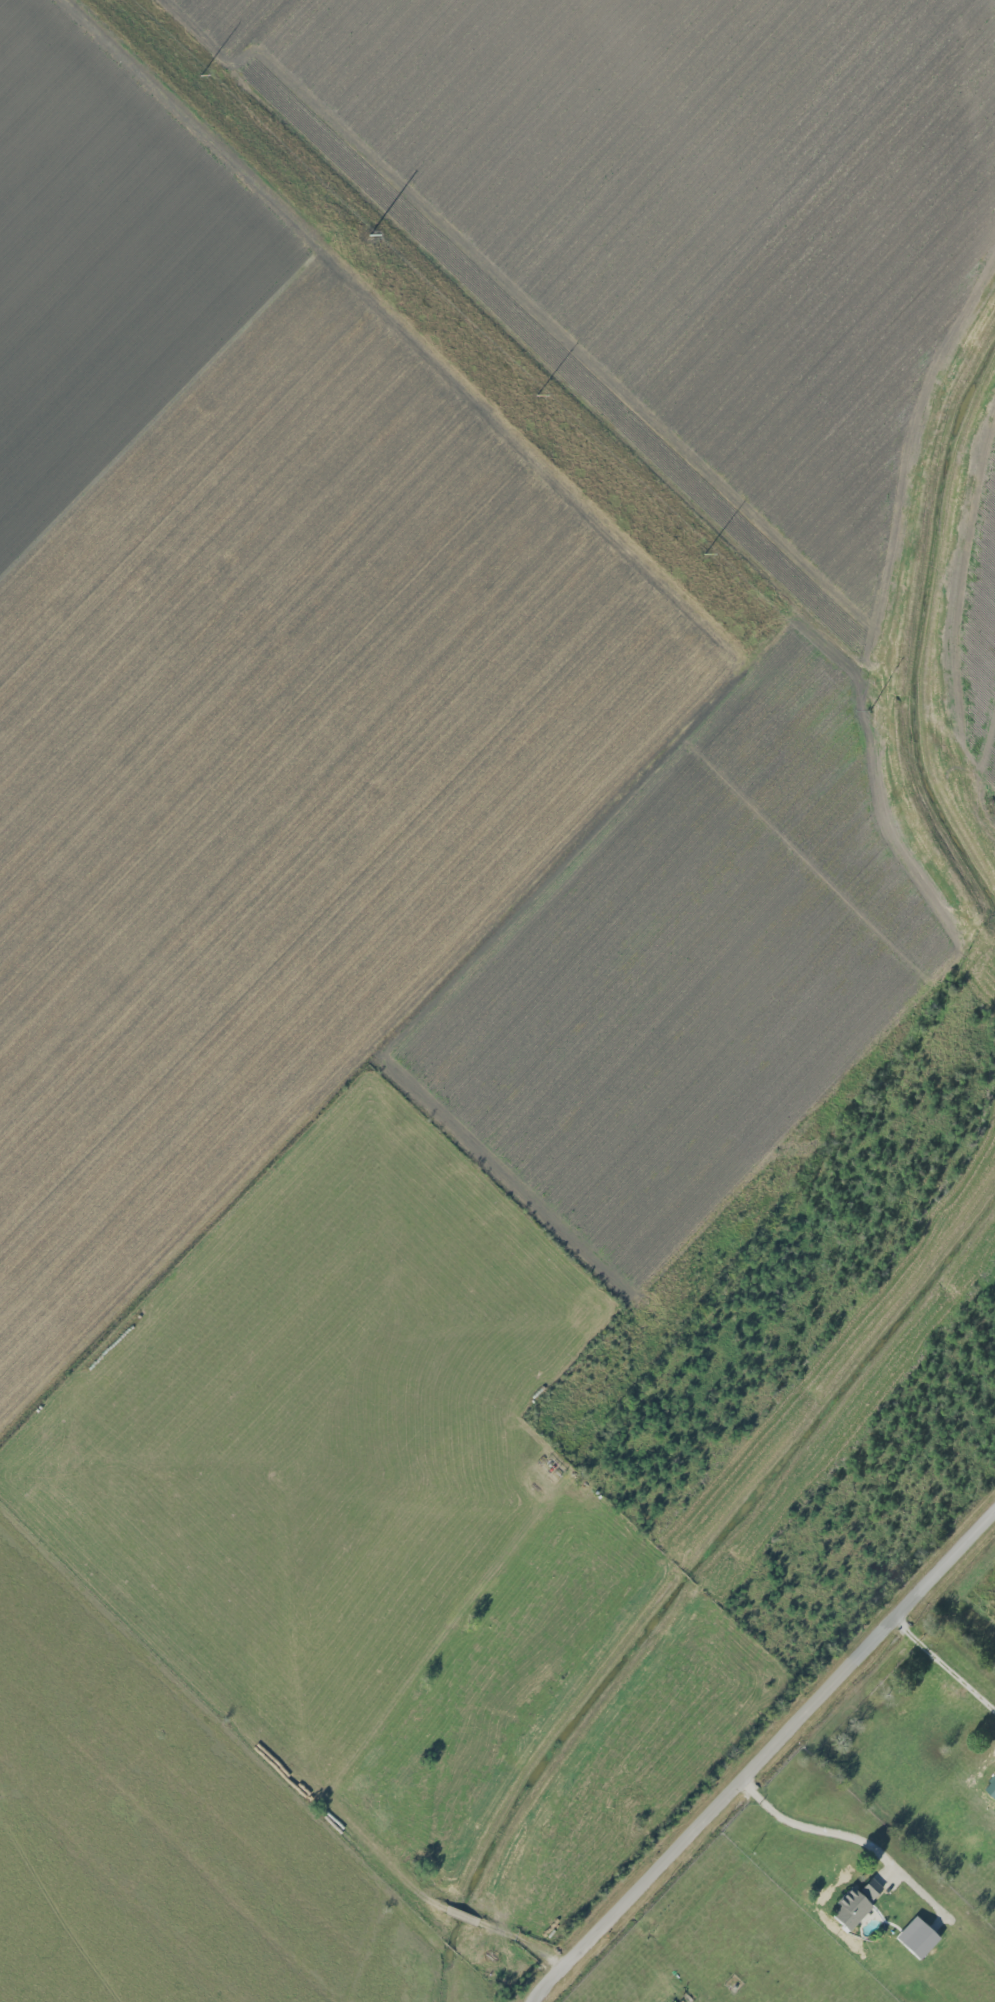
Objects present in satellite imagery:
road: (549, 884)
road: (946, 1663)
road: (765, 1758)
road: (813, 1826)
building: (857, 1904)
building: (919, 1937)
road: (525, 1938)

